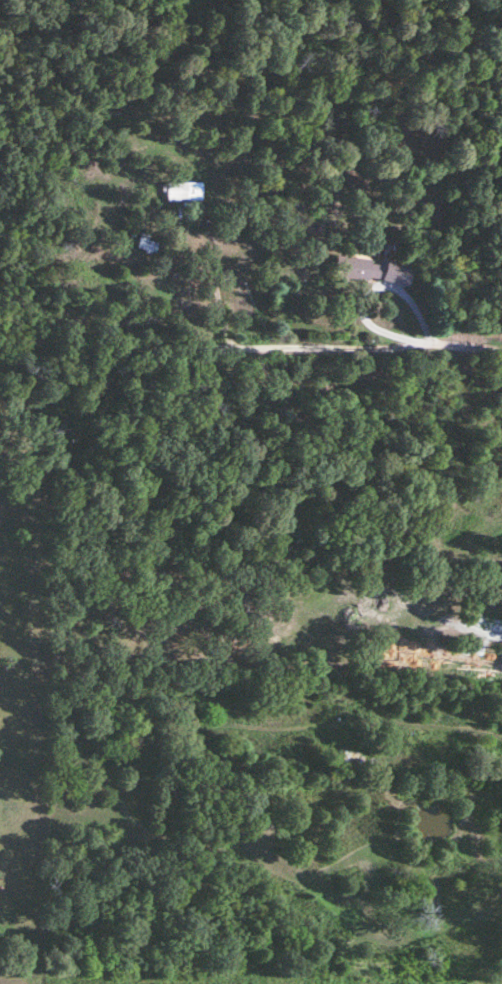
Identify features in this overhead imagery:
building: (182, 192)
building: (144, 245)
building: (376, 271)
road: (212, 292)
road: (250, 341)

